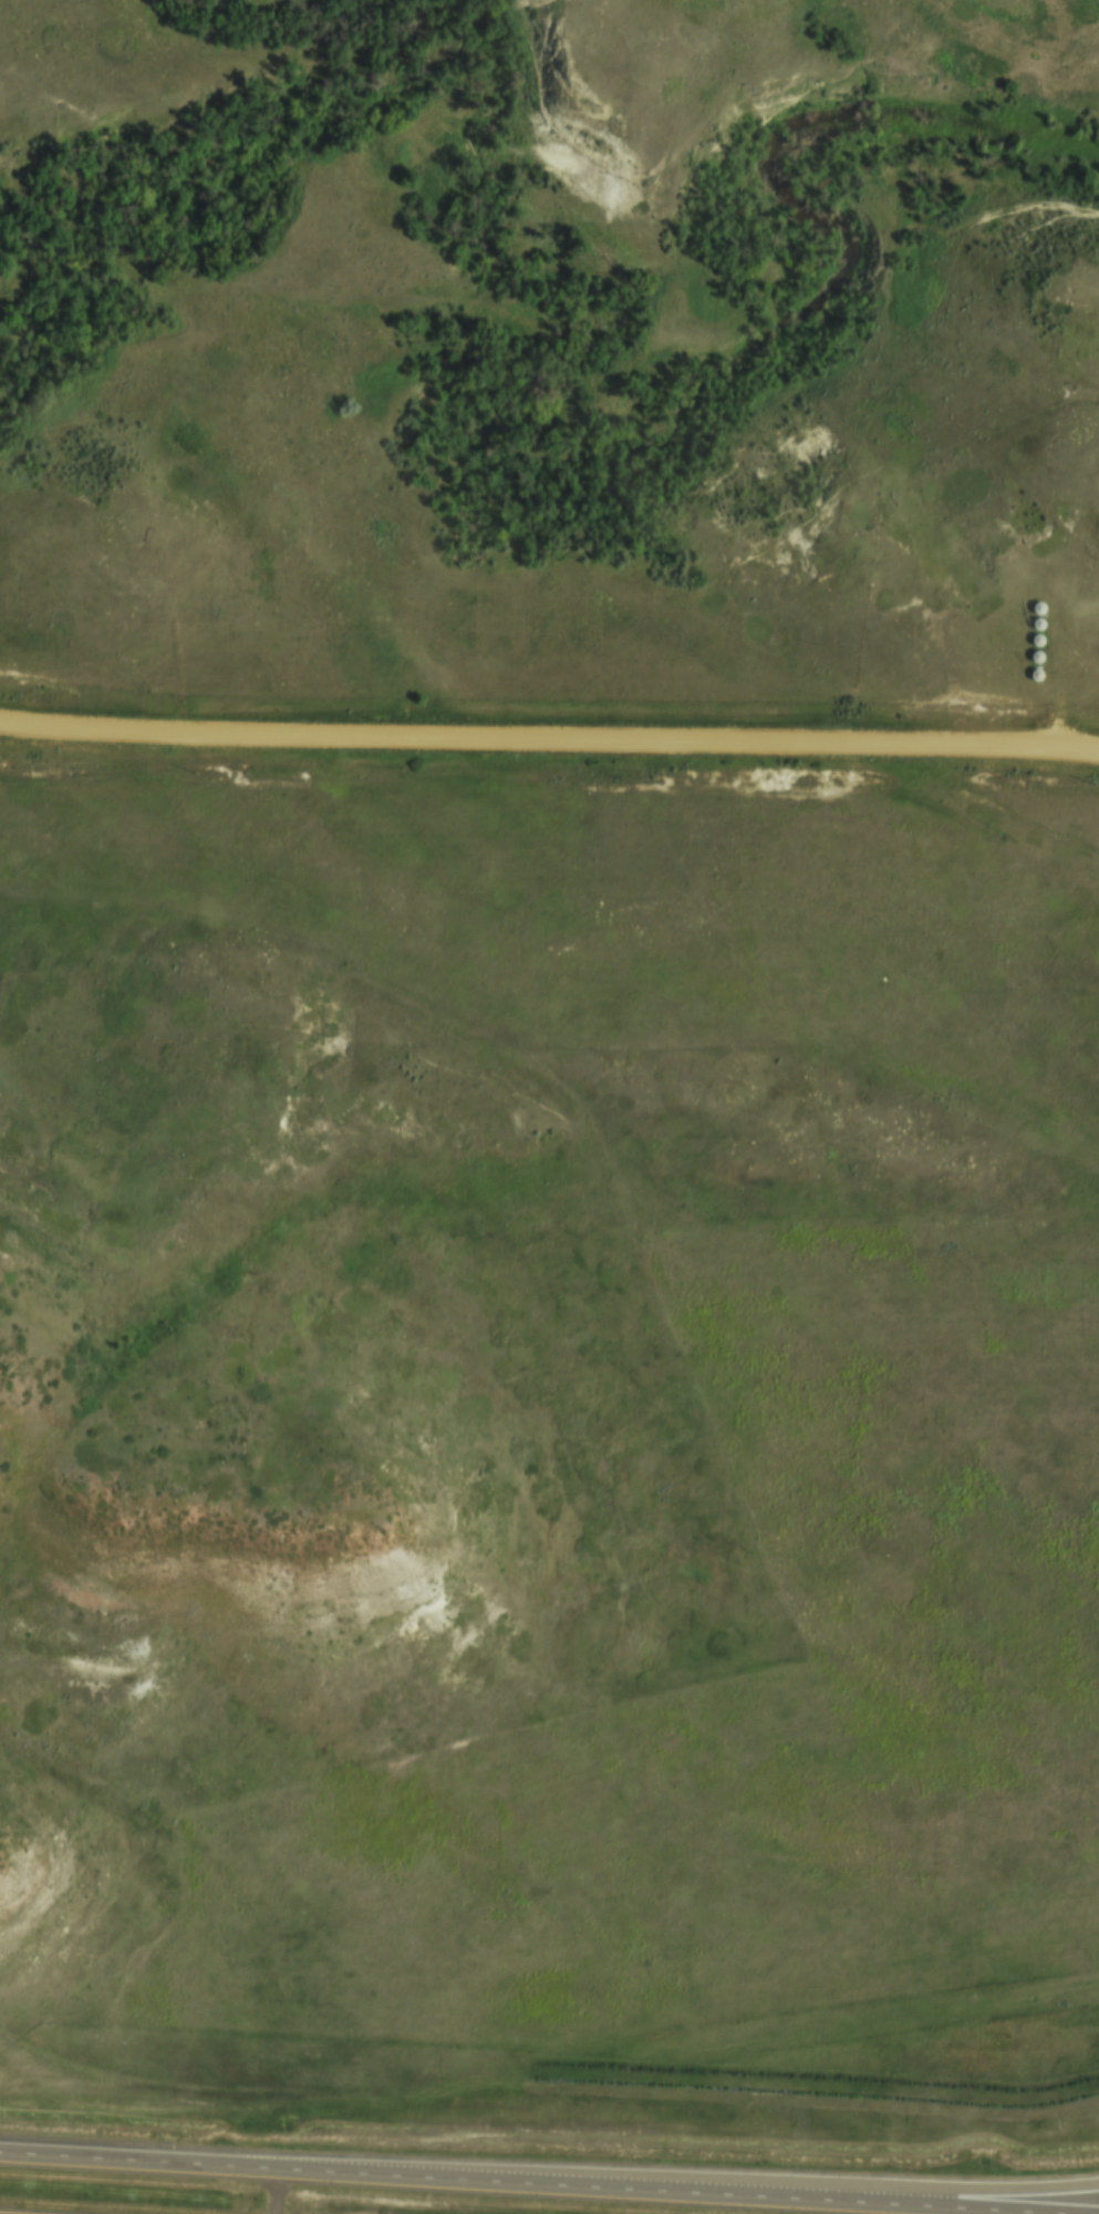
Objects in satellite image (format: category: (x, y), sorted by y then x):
road: (549, 744)
road: (478, 2182)
road: (909, 2195)

